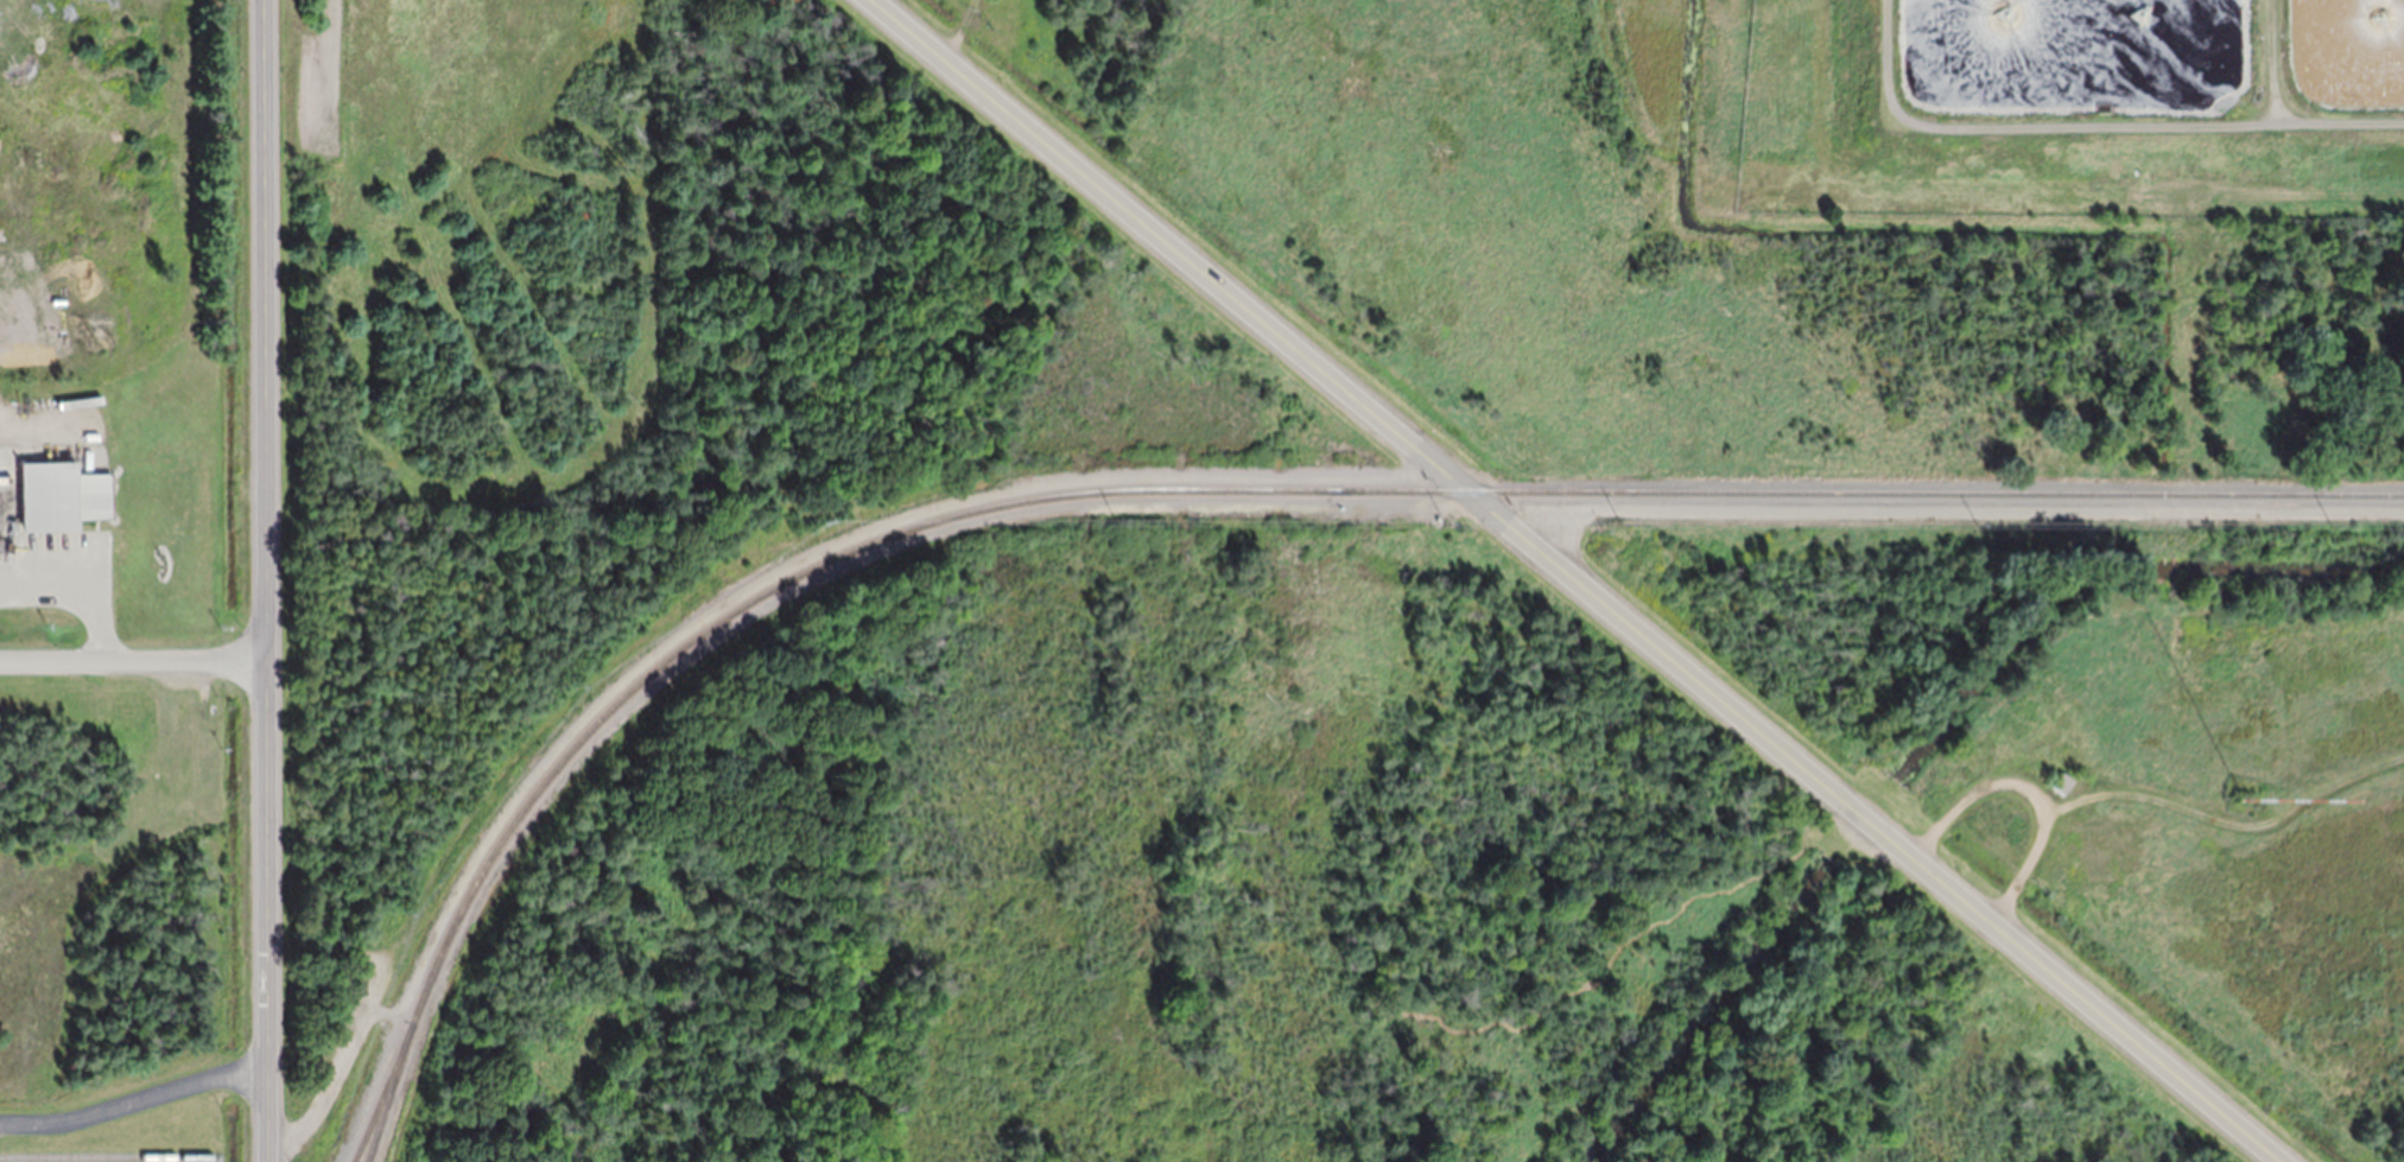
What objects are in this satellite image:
building: (4, 236)
railway: (1288, 489)
building: (59, 495)
road: (1964, 508)
road: (1584, 579)
road: (266, 580)
road: (133, 658)
building: (2062, 781)
building: (2239, 796)
railway: (387, 1093)
railway: (380, 1094)
road: (133, 1100)
railway: (90, 1156)

